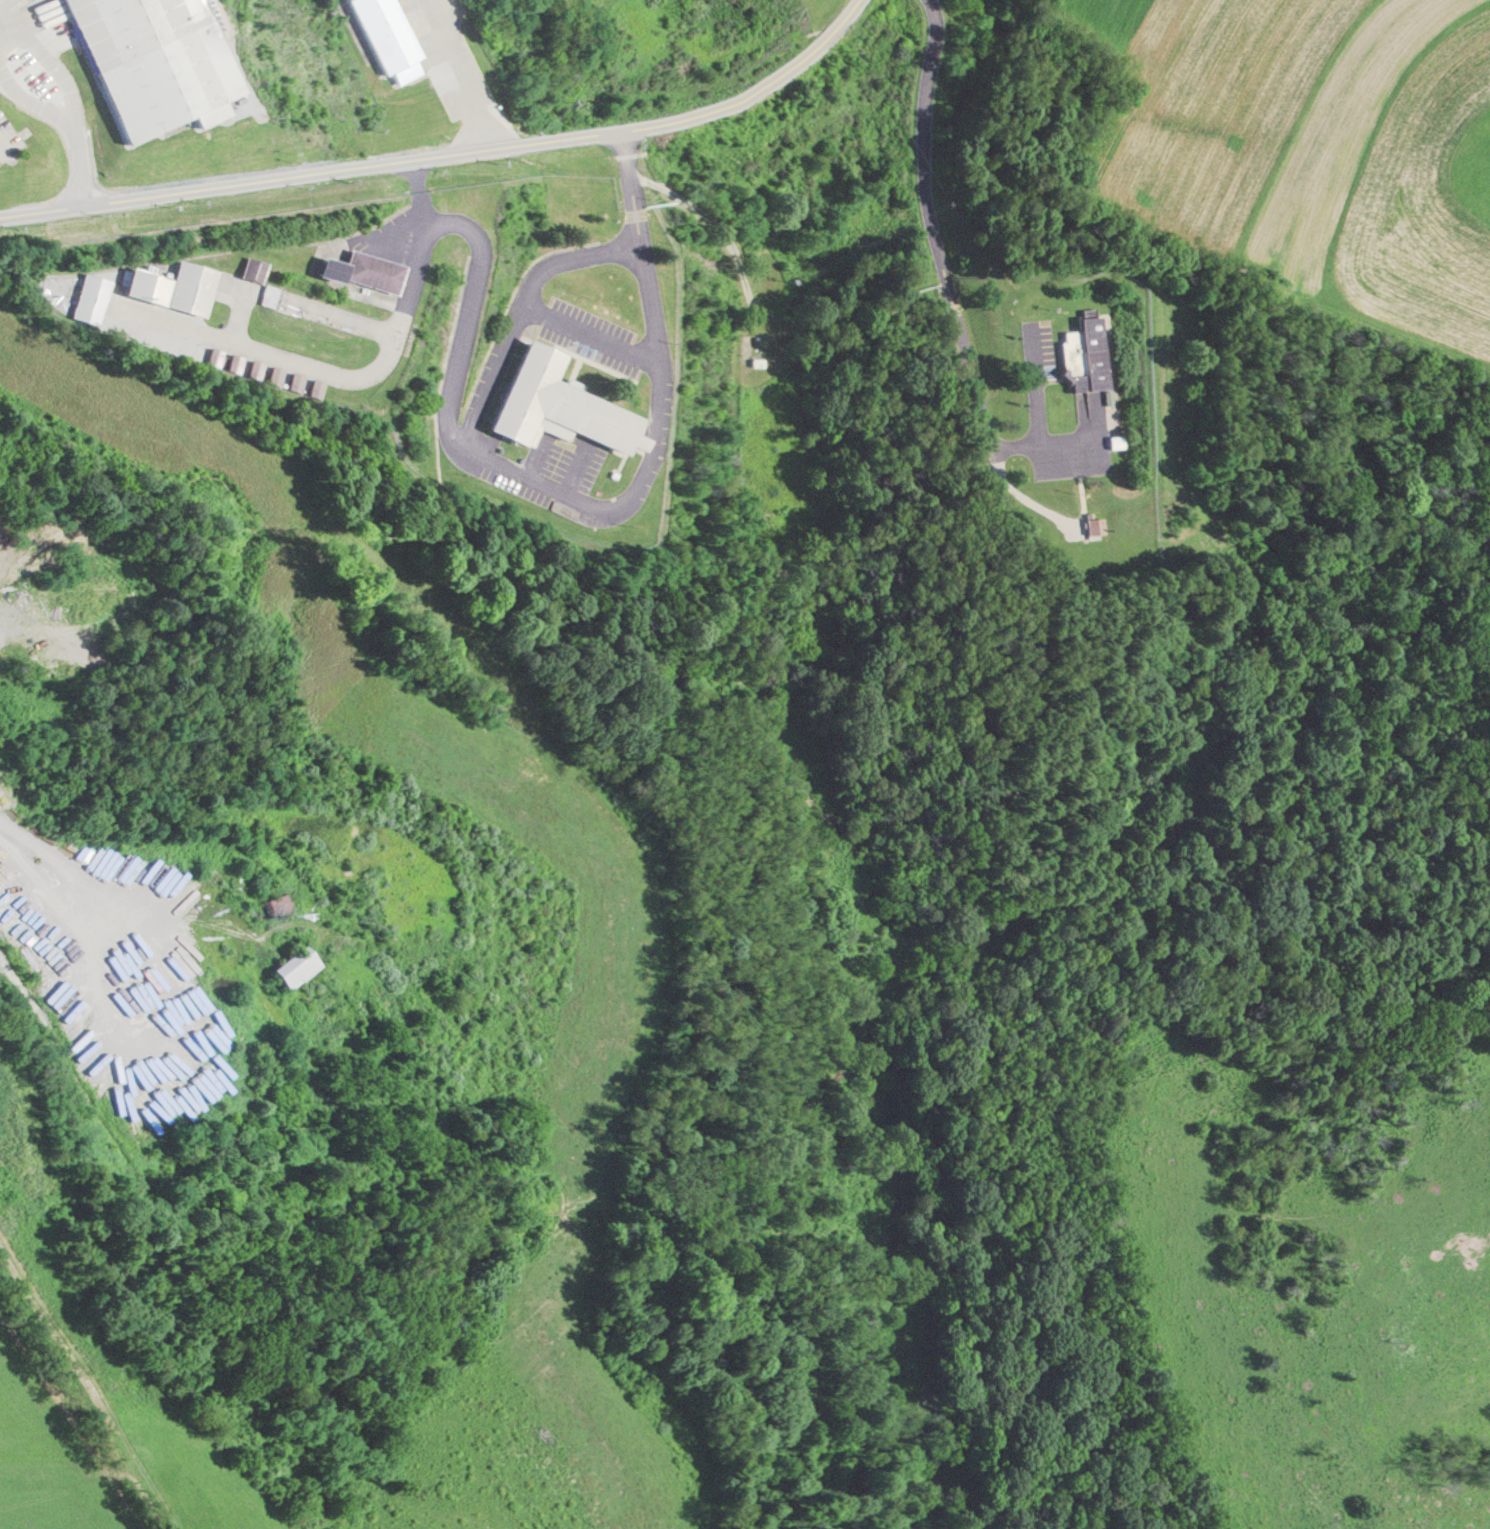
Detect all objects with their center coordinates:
building: (382, 38)
road: (819, 46)
road: (42, 53)
building: (148, 62)
road: (459, 76)
road: (391, 165)
building: (363, 271)
building: (145, 286)
building: (190, 287)
building: (87, 310)
building: (1086, 355)
building: (555, 405)
building: (1094, 522)
building: (291, 967)

